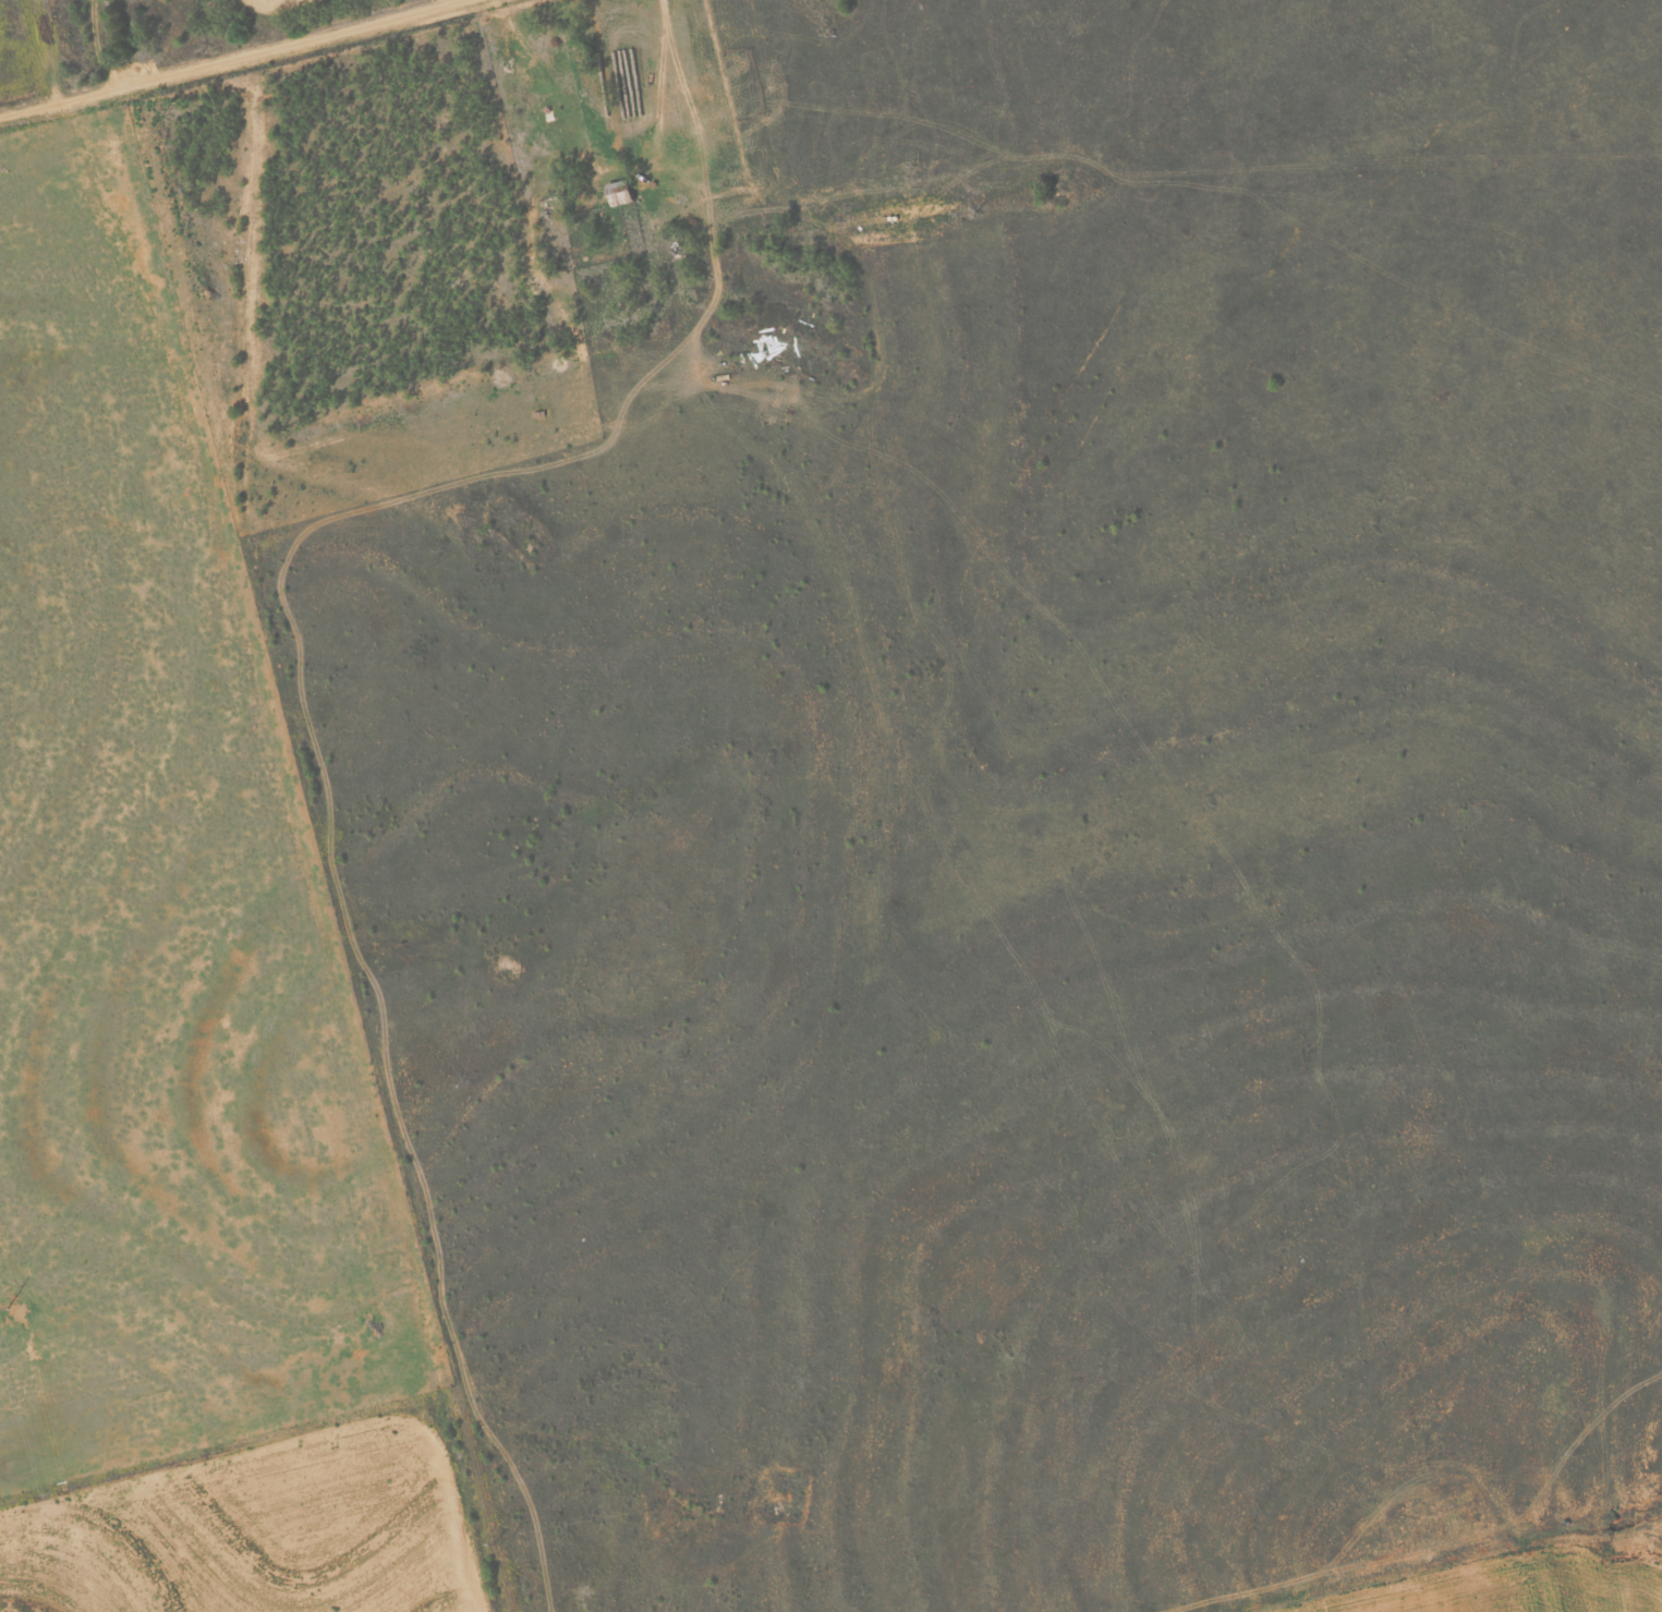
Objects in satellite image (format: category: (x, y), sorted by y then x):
road: (231, 57)
power tower: (8, 1317)

